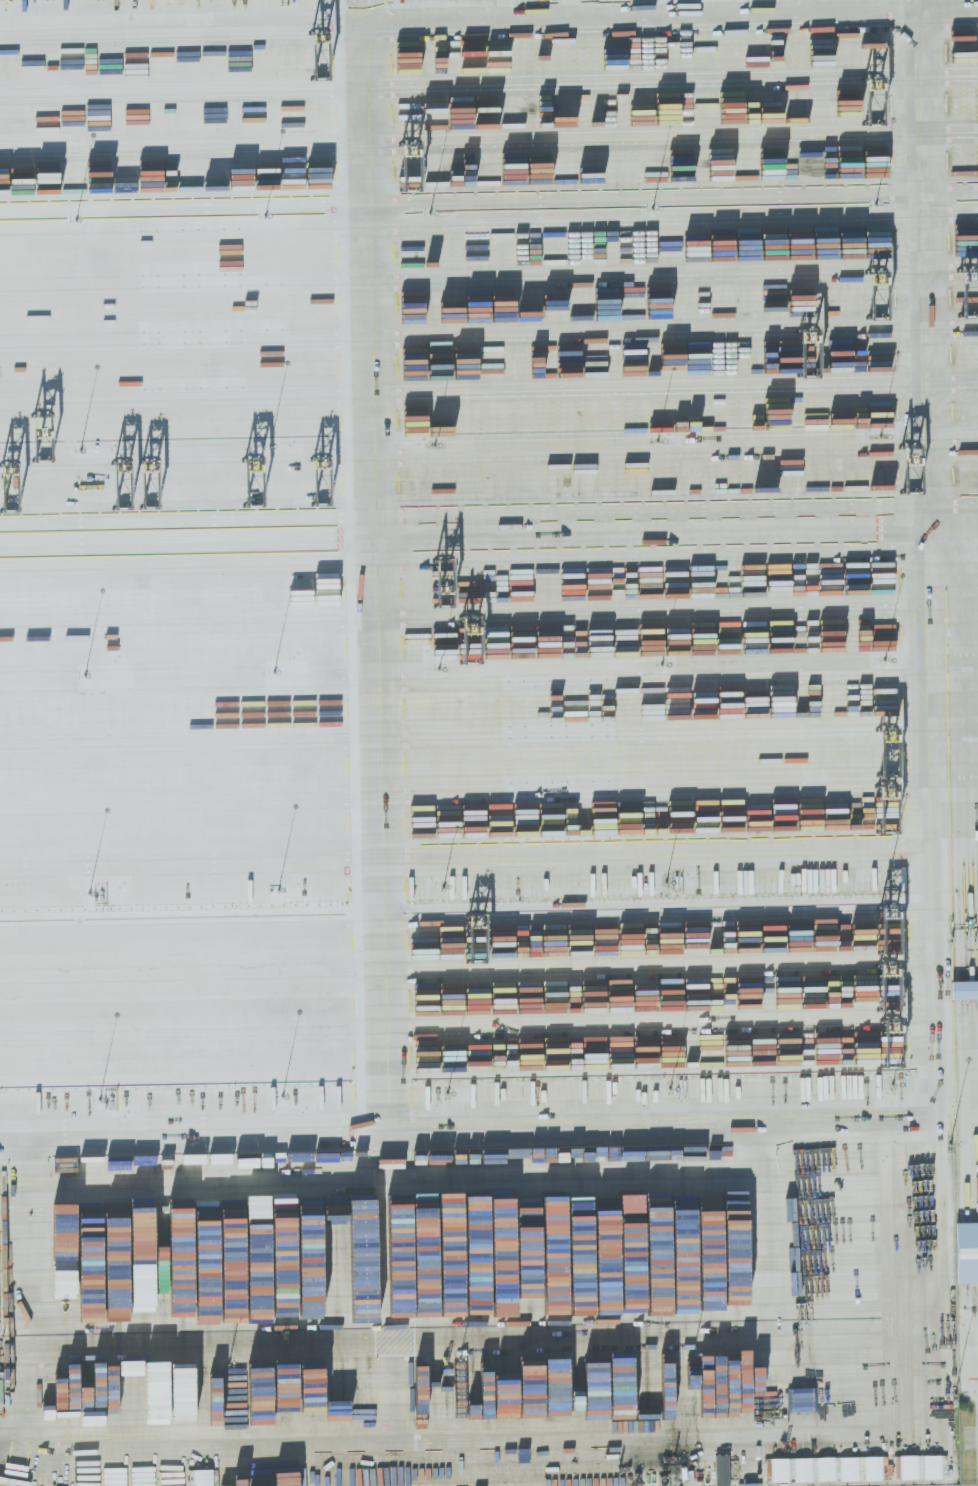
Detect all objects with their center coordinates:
road: (134, 1)
road: (940, 3)
helipad: (866, 103)
road: (964, 188)
road: (494, 199)
road: (964, 213)
road: (657, 221)
road: (952, 240)
road: (659, 277)
road: (663, 390)
road: (664, 453)
road: (674, 520)
road: (352, 746)
building: (964, 990)
building: (967, 1253)
building: (1, 1391)
building: (919, 1467)
building: (826, 1469)
building: (722, 1470)
building: (202, 1478)

